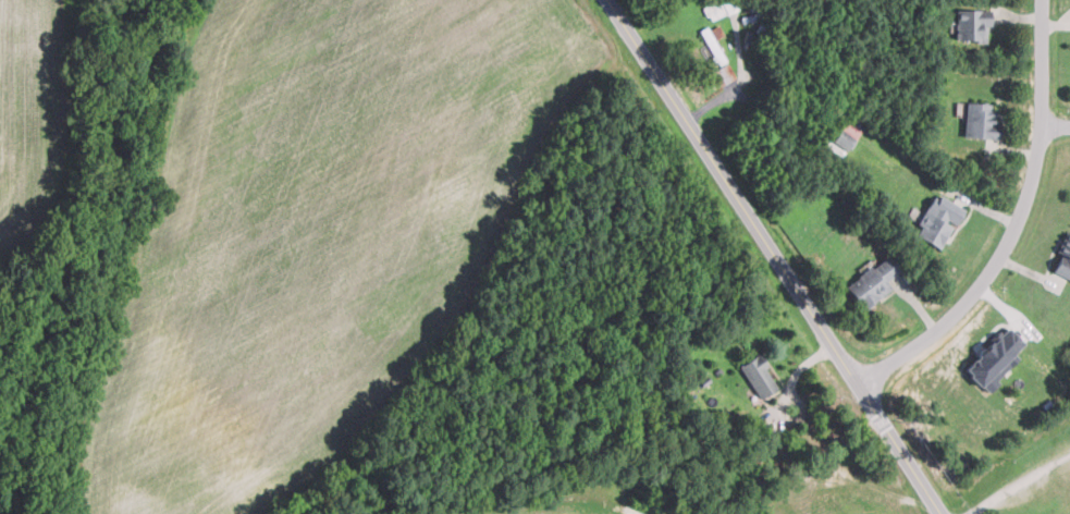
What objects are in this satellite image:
building: (973, 24)
building: (981, 120)
road: (1056, 122)
building: (846, 135)
building: (938, 220)
road: (1016, 224)
road: (774, 256)
building: (1063, 258)
building: (872, 282)
building: (995, 358)
building: (759, 377)
road: (1021, 485)

